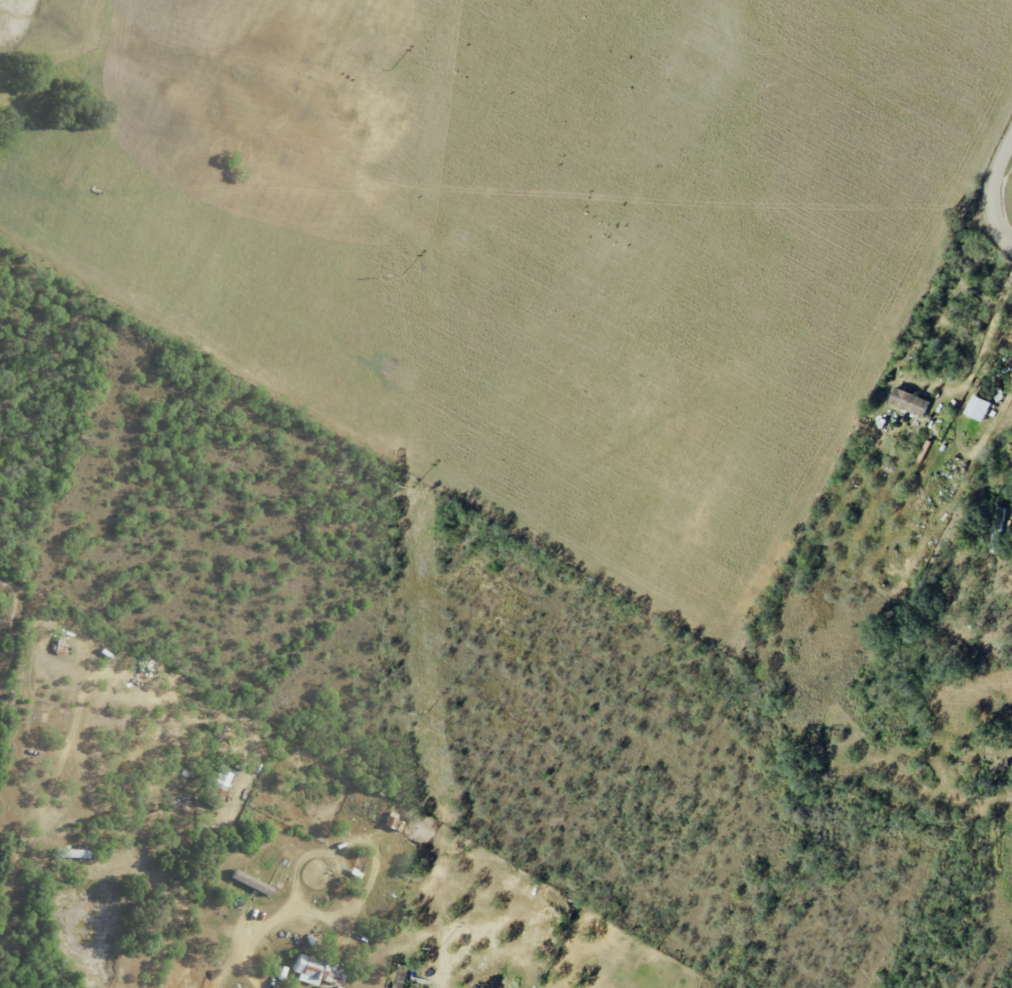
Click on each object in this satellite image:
power tower: (397, 65)
road: (1003, 193)
power tower: (409, 270)
building: (909, 401)
building: (978, 407)
power tower: (419, 483)
power tower: (431, 711)
building: (222, 776)
building: (249, 881)
road: (460, 929)
road: (260, 931)
power tower: (443, 945)
building: (315, 970)
road: (441, 979)

